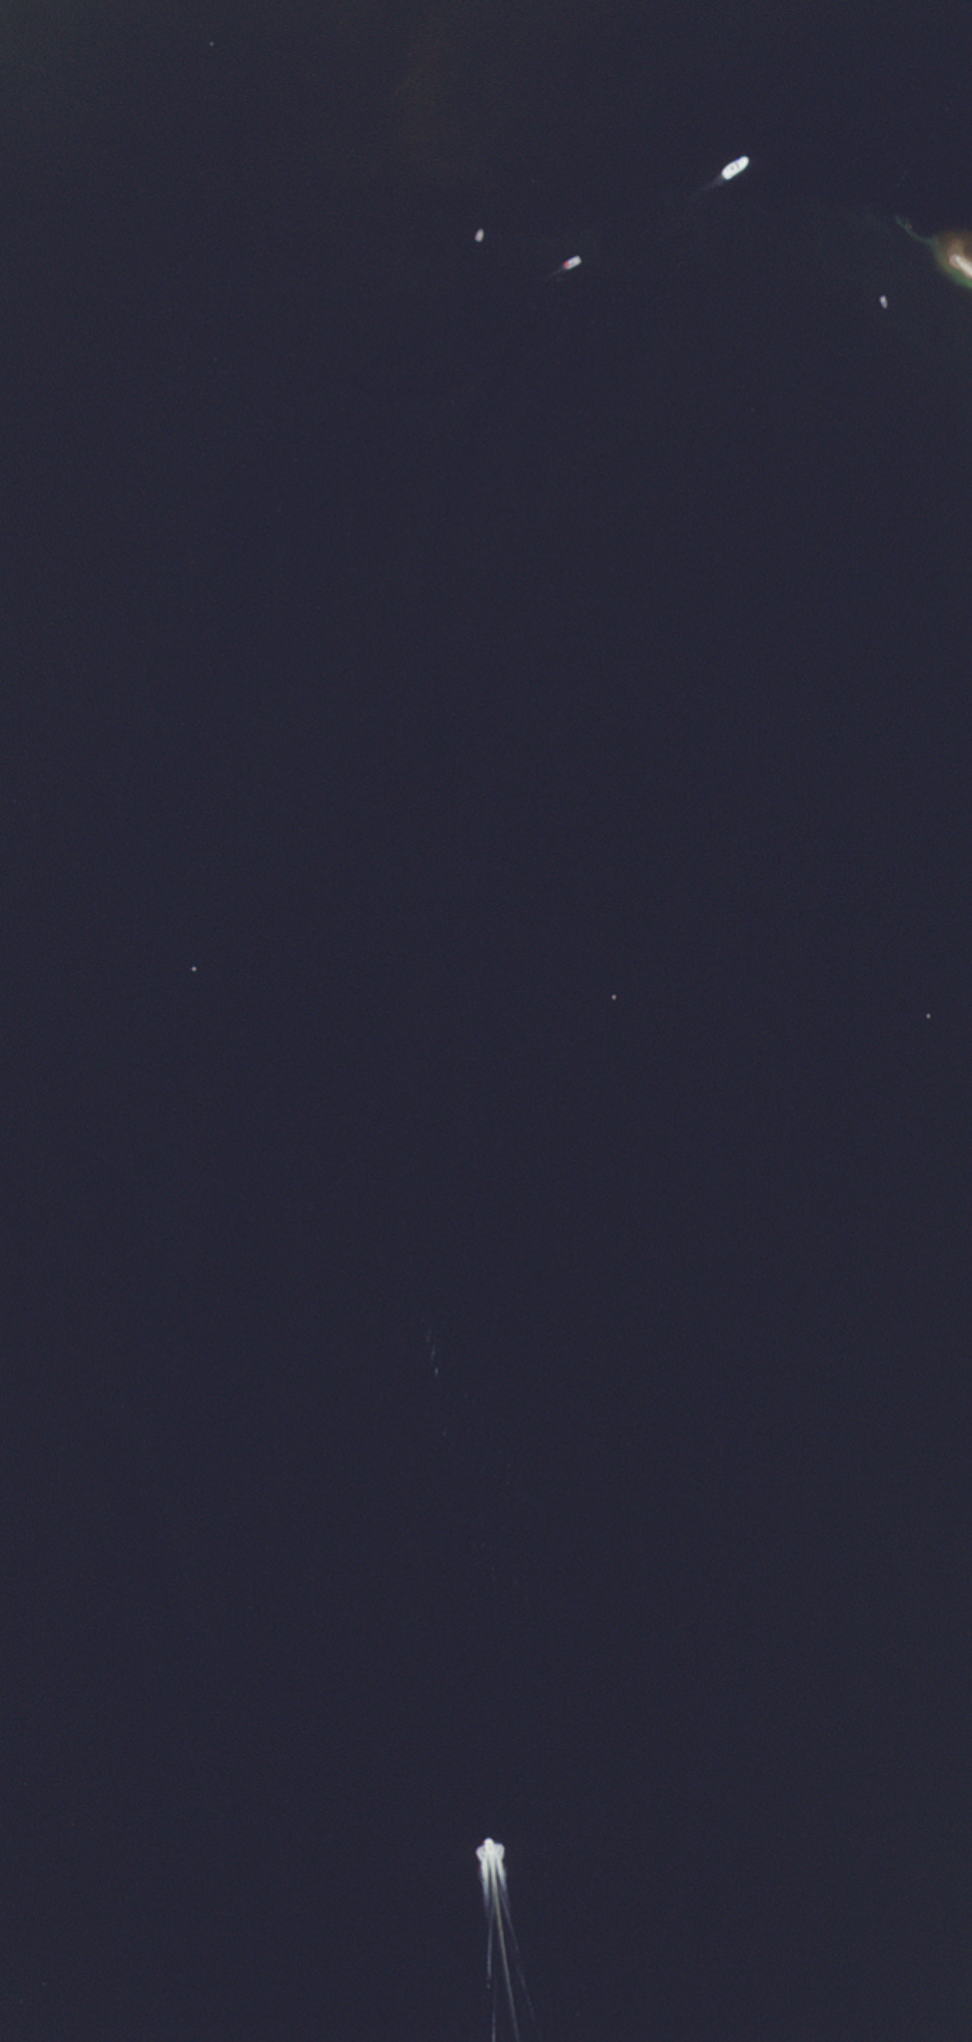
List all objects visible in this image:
river: (261, 911)

